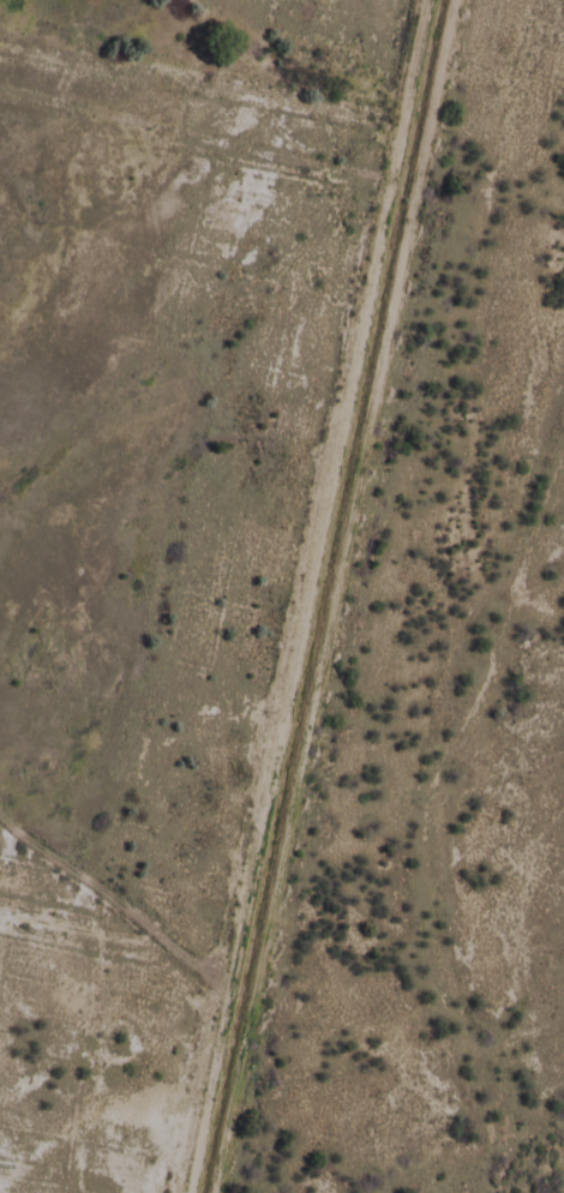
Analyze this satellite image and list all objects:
road: (443, 41)
road: (304, 596)
road: (323, 637)
road: (110, 900)

